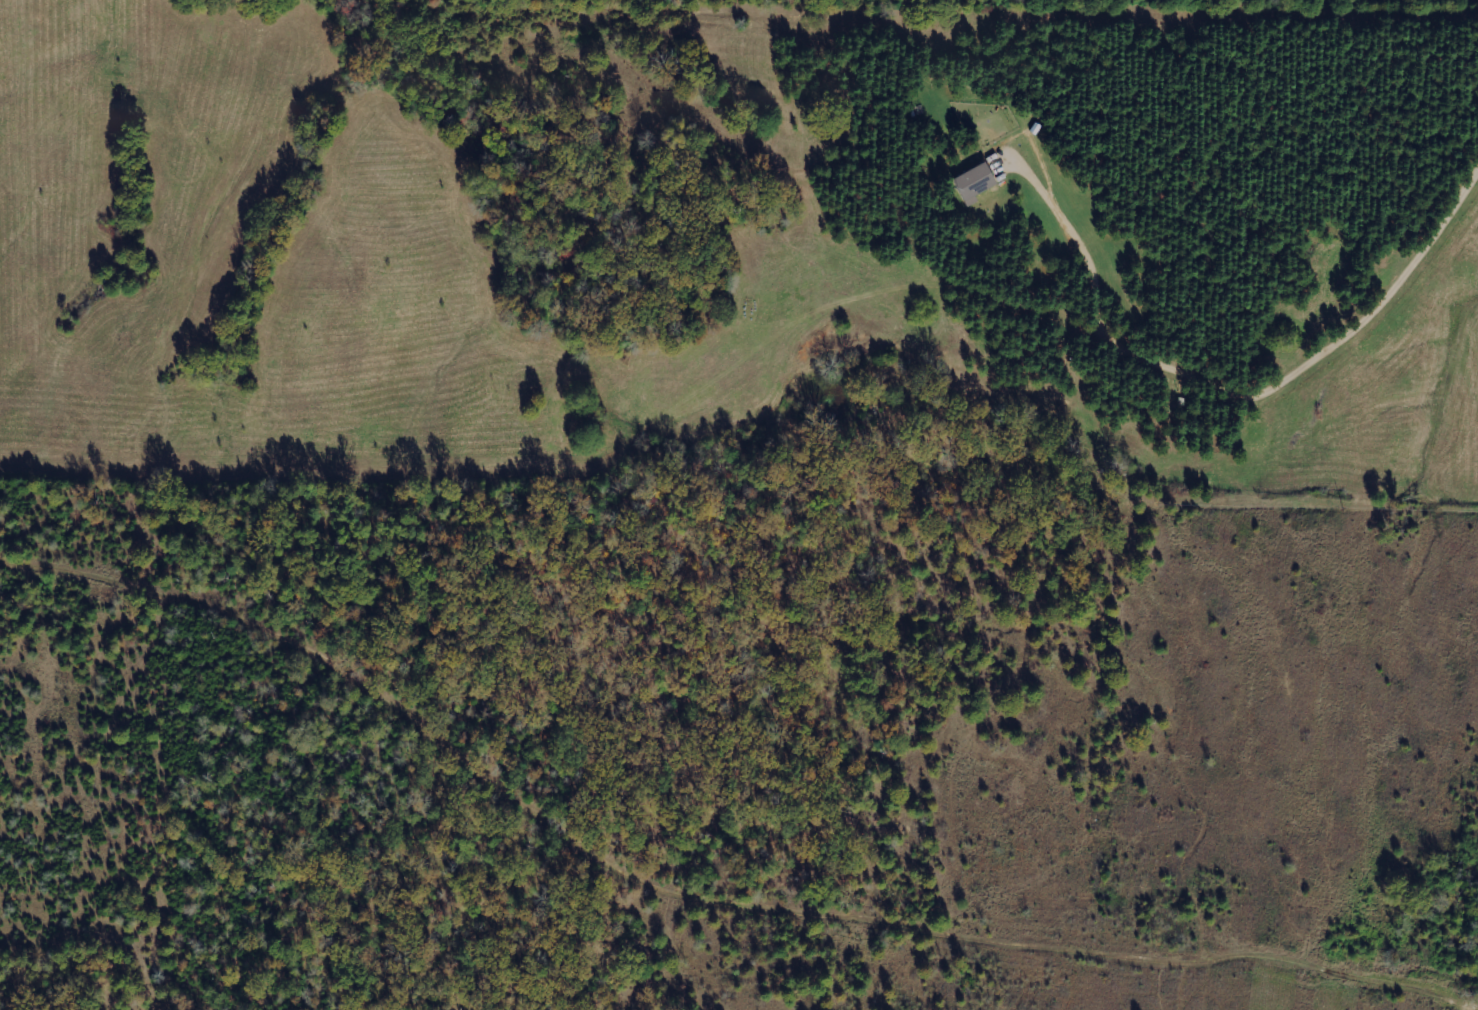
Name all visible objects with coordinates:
building: (979, 180)
road: (783, 320)

